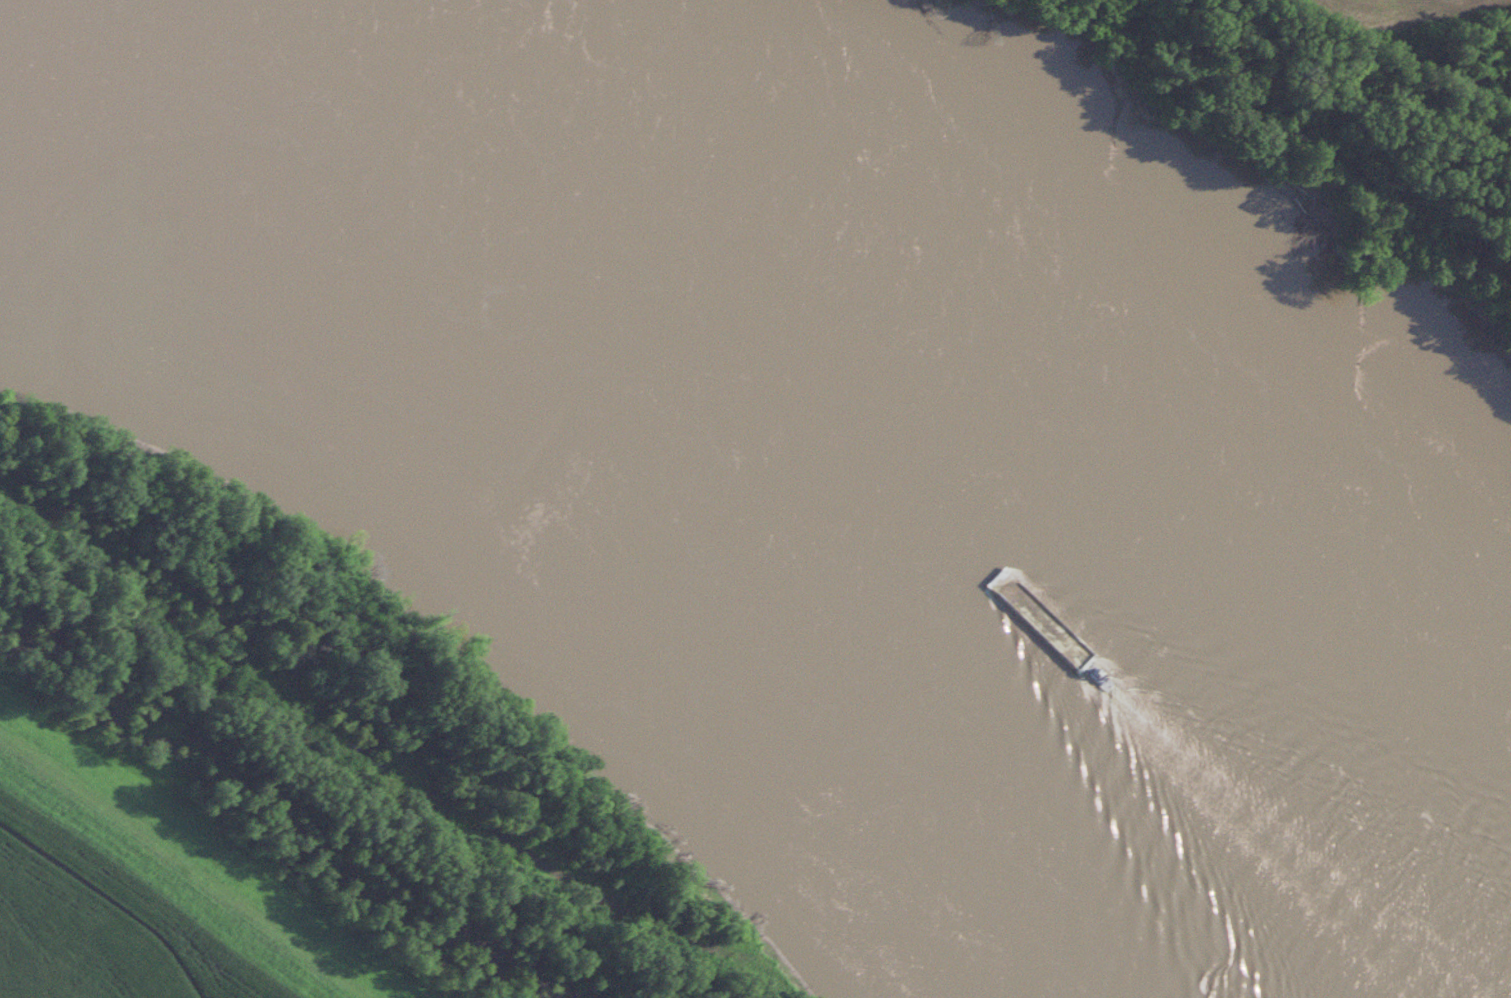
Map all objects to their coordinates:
river: (720, 451)
river: (1433, 912)

